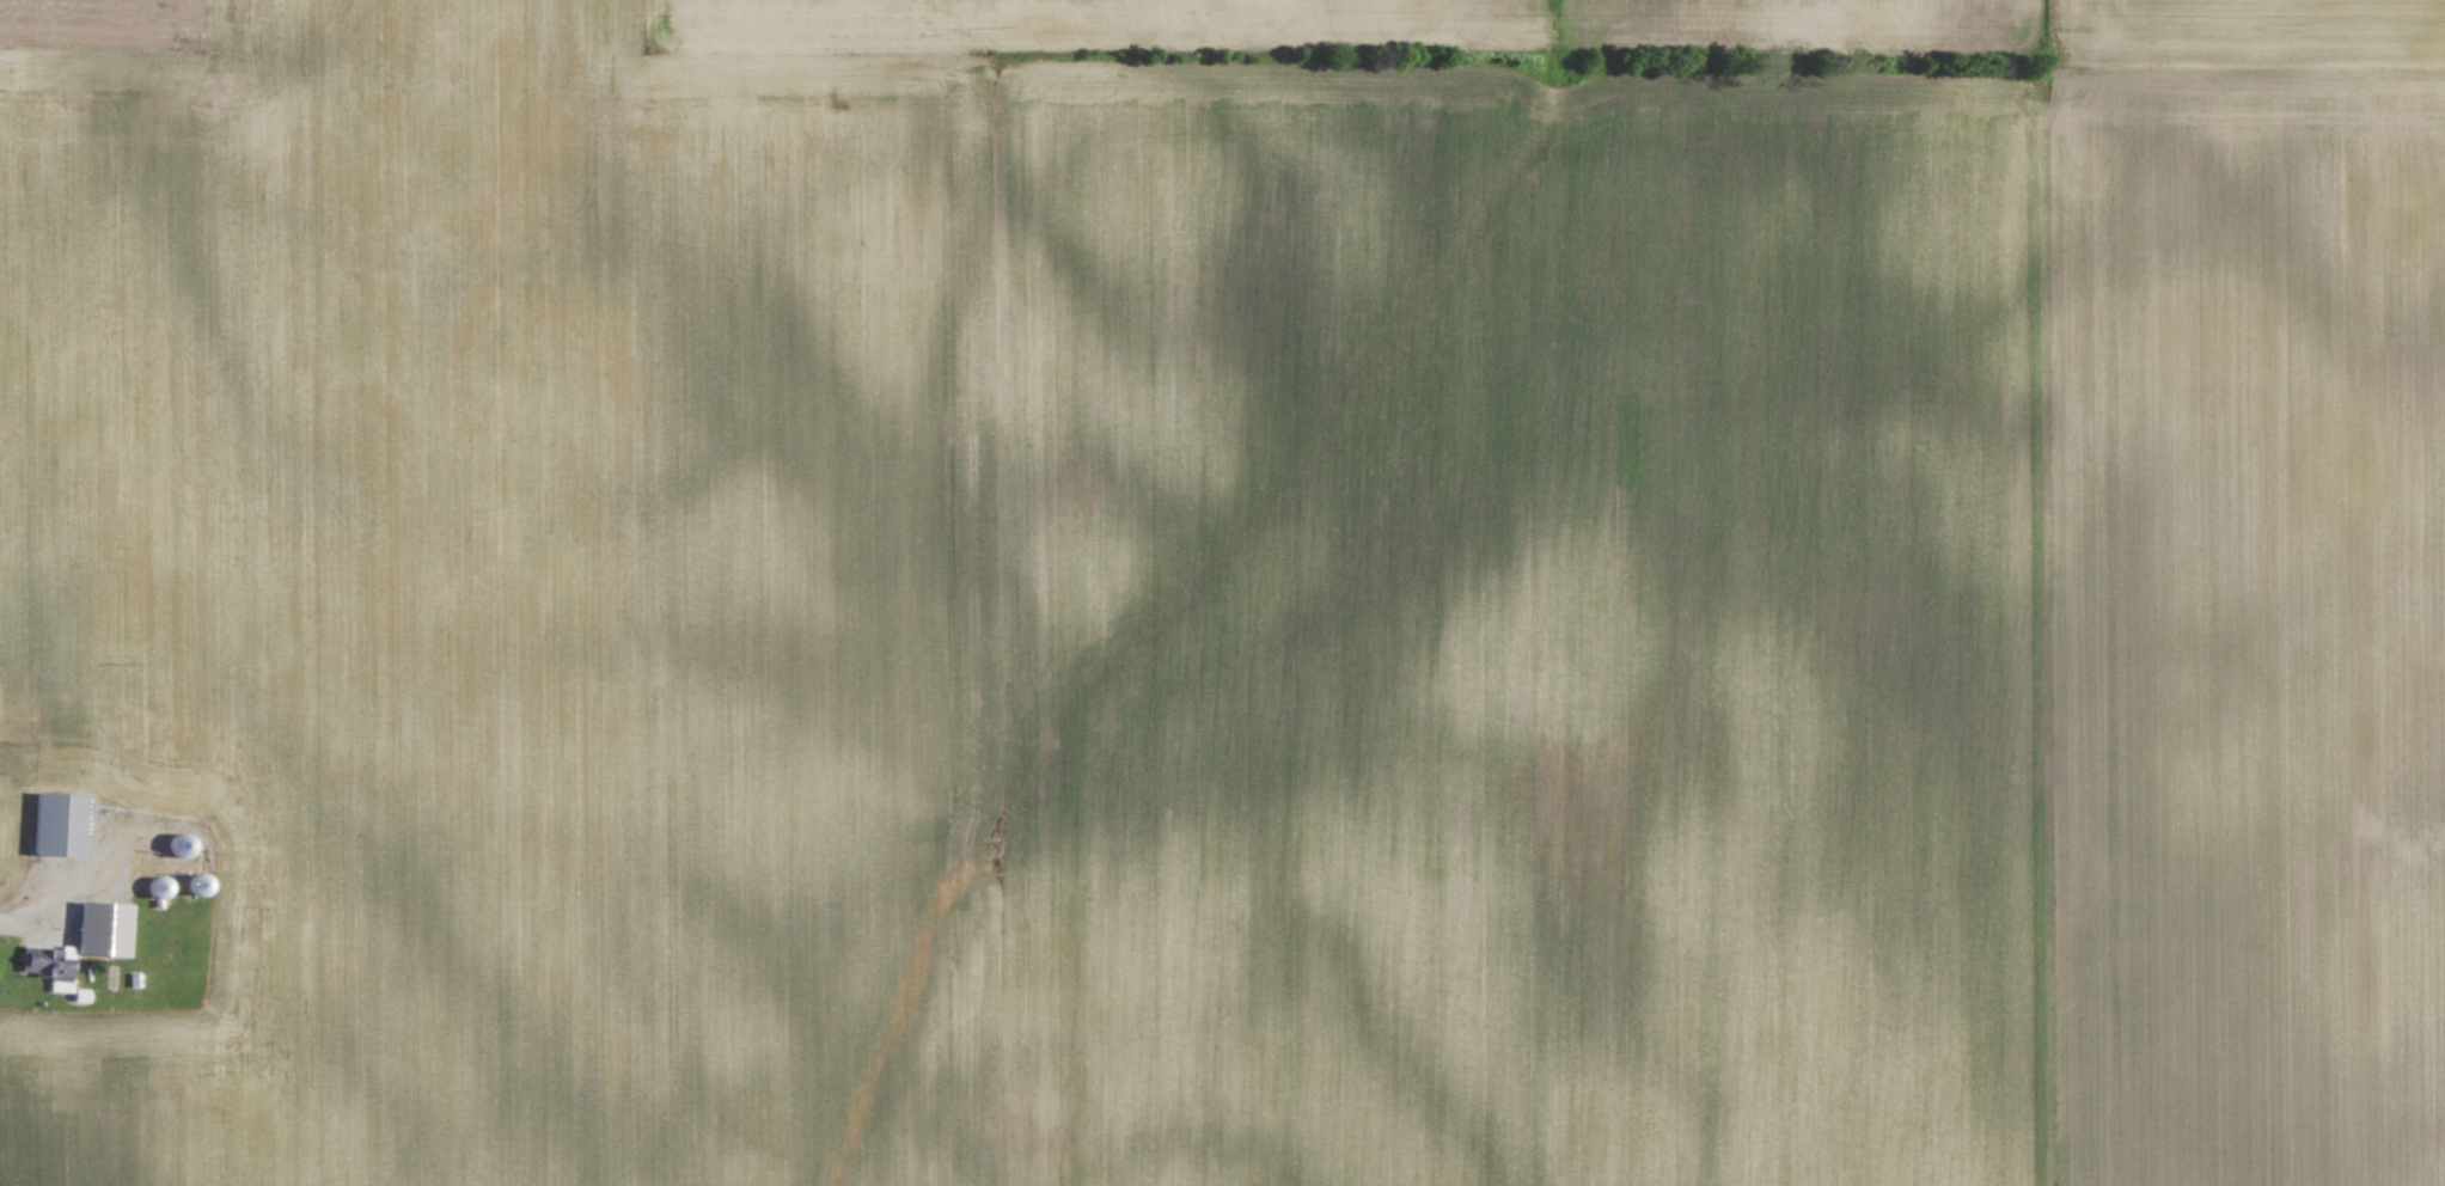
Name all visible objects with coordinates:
building: (63, 825)
road: (26, 911)
building: (109, 929)

